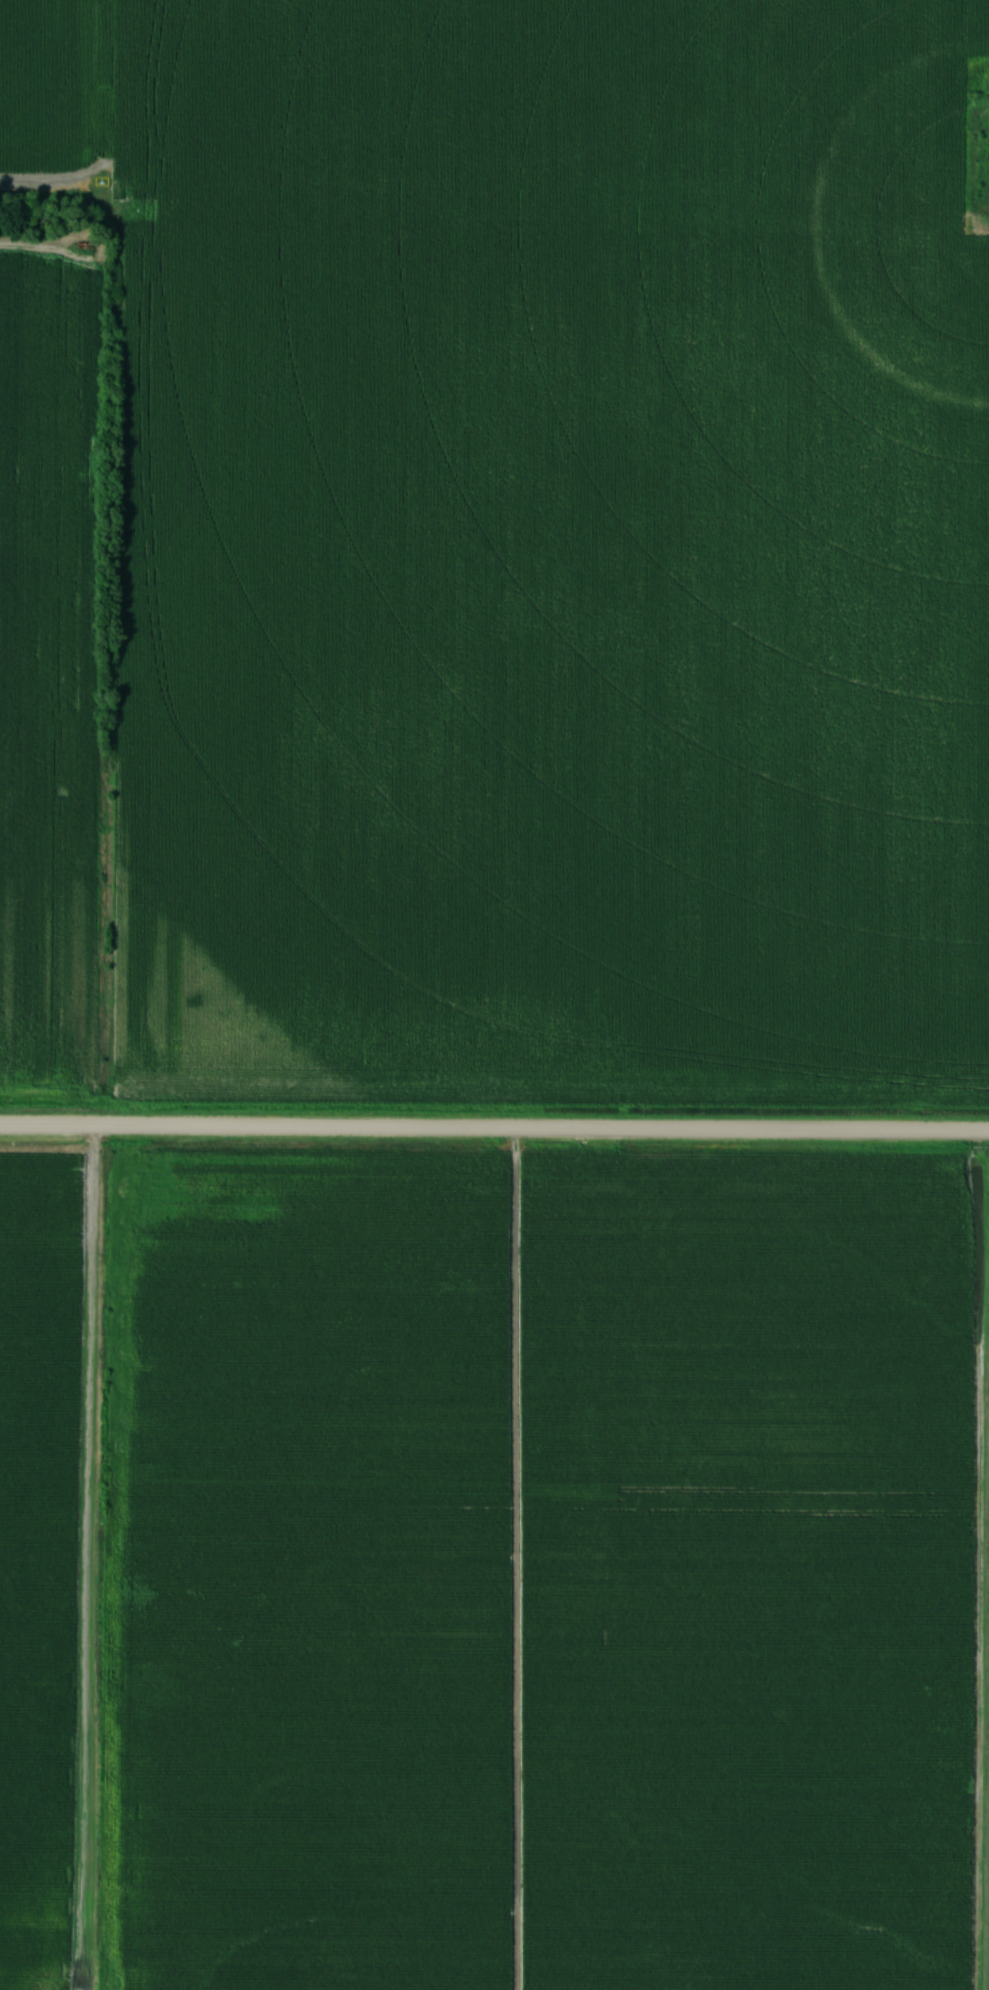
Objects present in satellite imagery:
road: (494, 1132)

